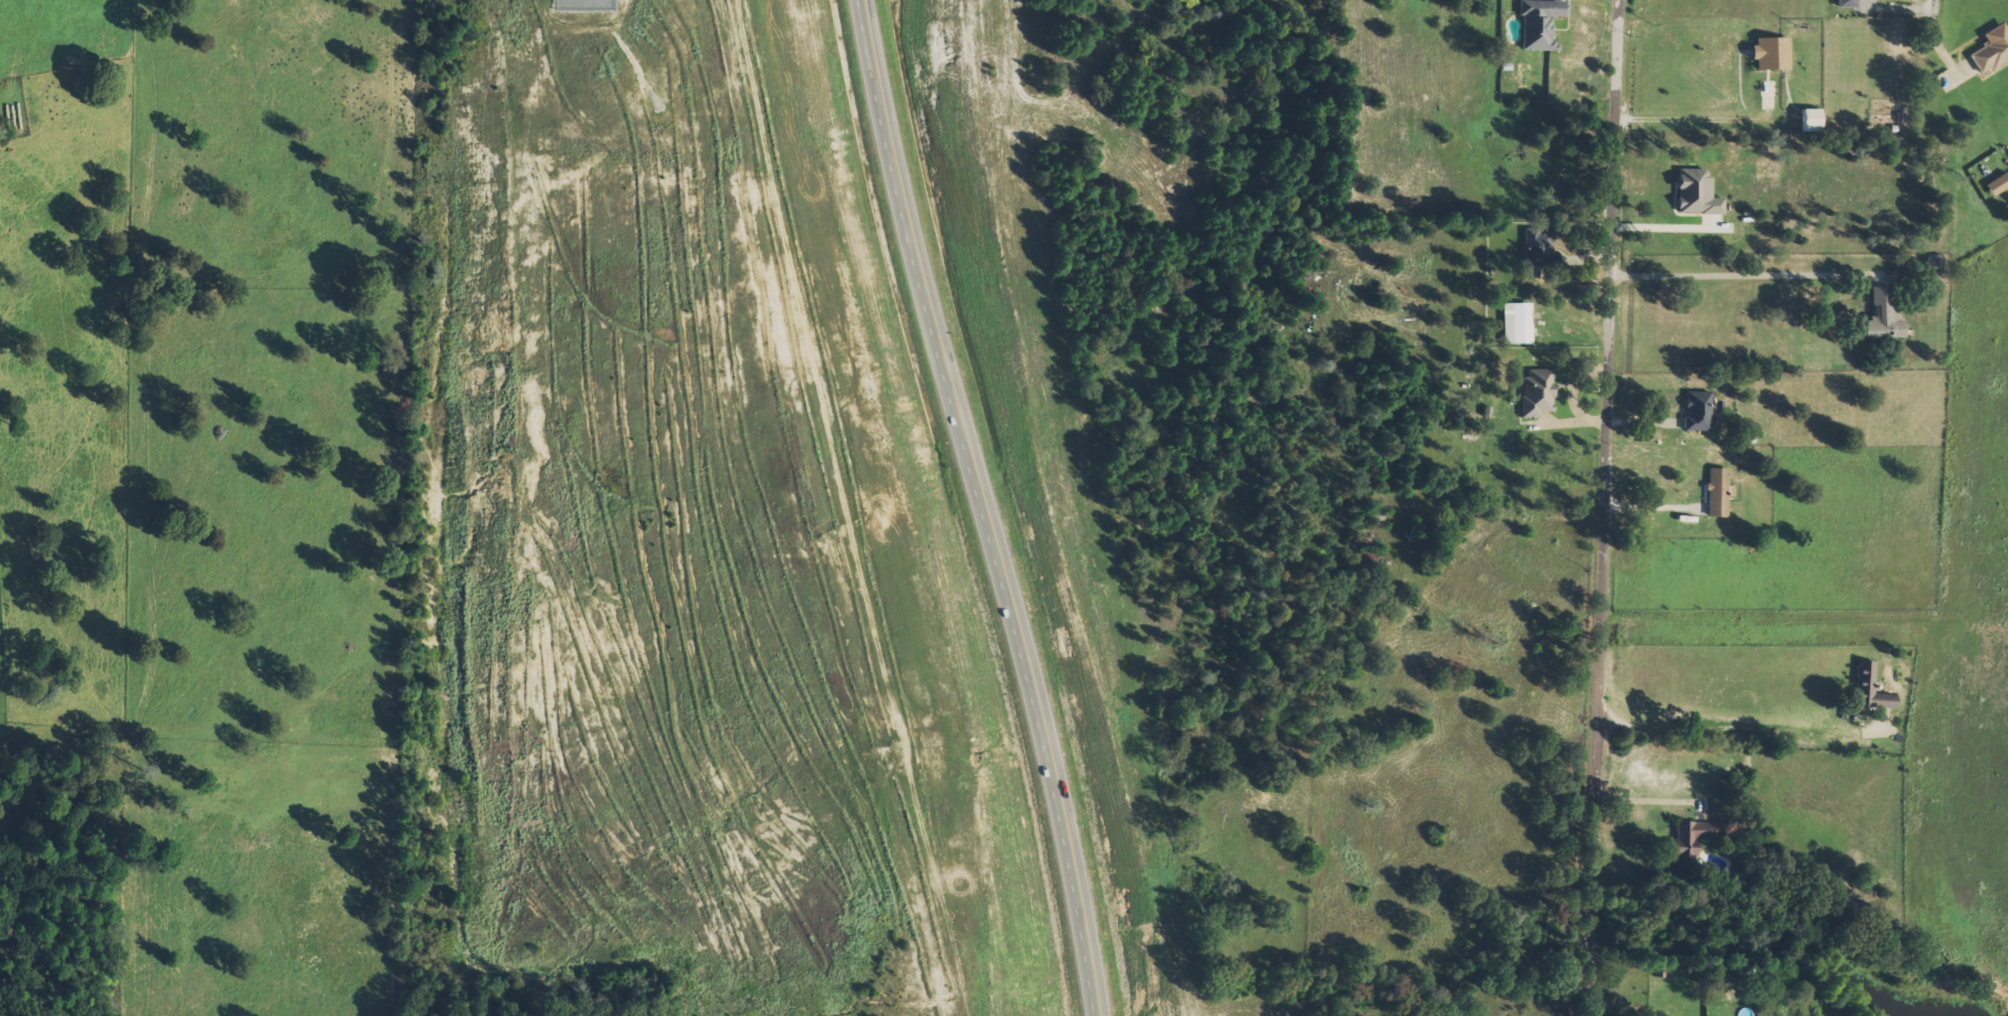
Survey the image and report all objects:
building: (1845, 3)
road: (863, 6)
road: (1936, 8)
building: (1539, 23)
building: (1991, 50)
building: (1770, 53)
building: (1810, 120)
building: (1997, 184)
building: (1696, 193)
building: (1537, 254)
building: (1933, 261)
building: (1883, 316)
building: (1516, 323)
building: (1536, 393)
building: (1698, 410)
building: (1717, 493)
road: (1611, 508)
road: (983, 514)
building: (1869, 689)
building: (1687, 843)

